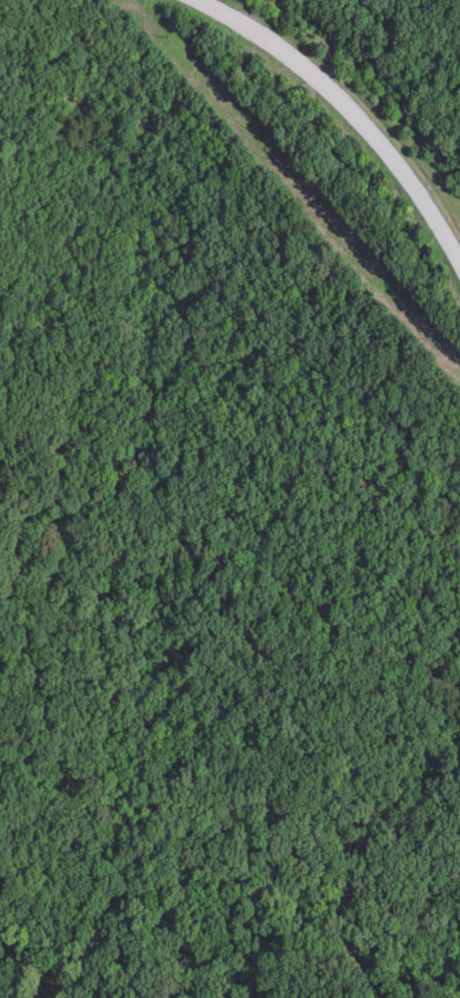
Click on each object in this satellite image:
road: (347, 104)

